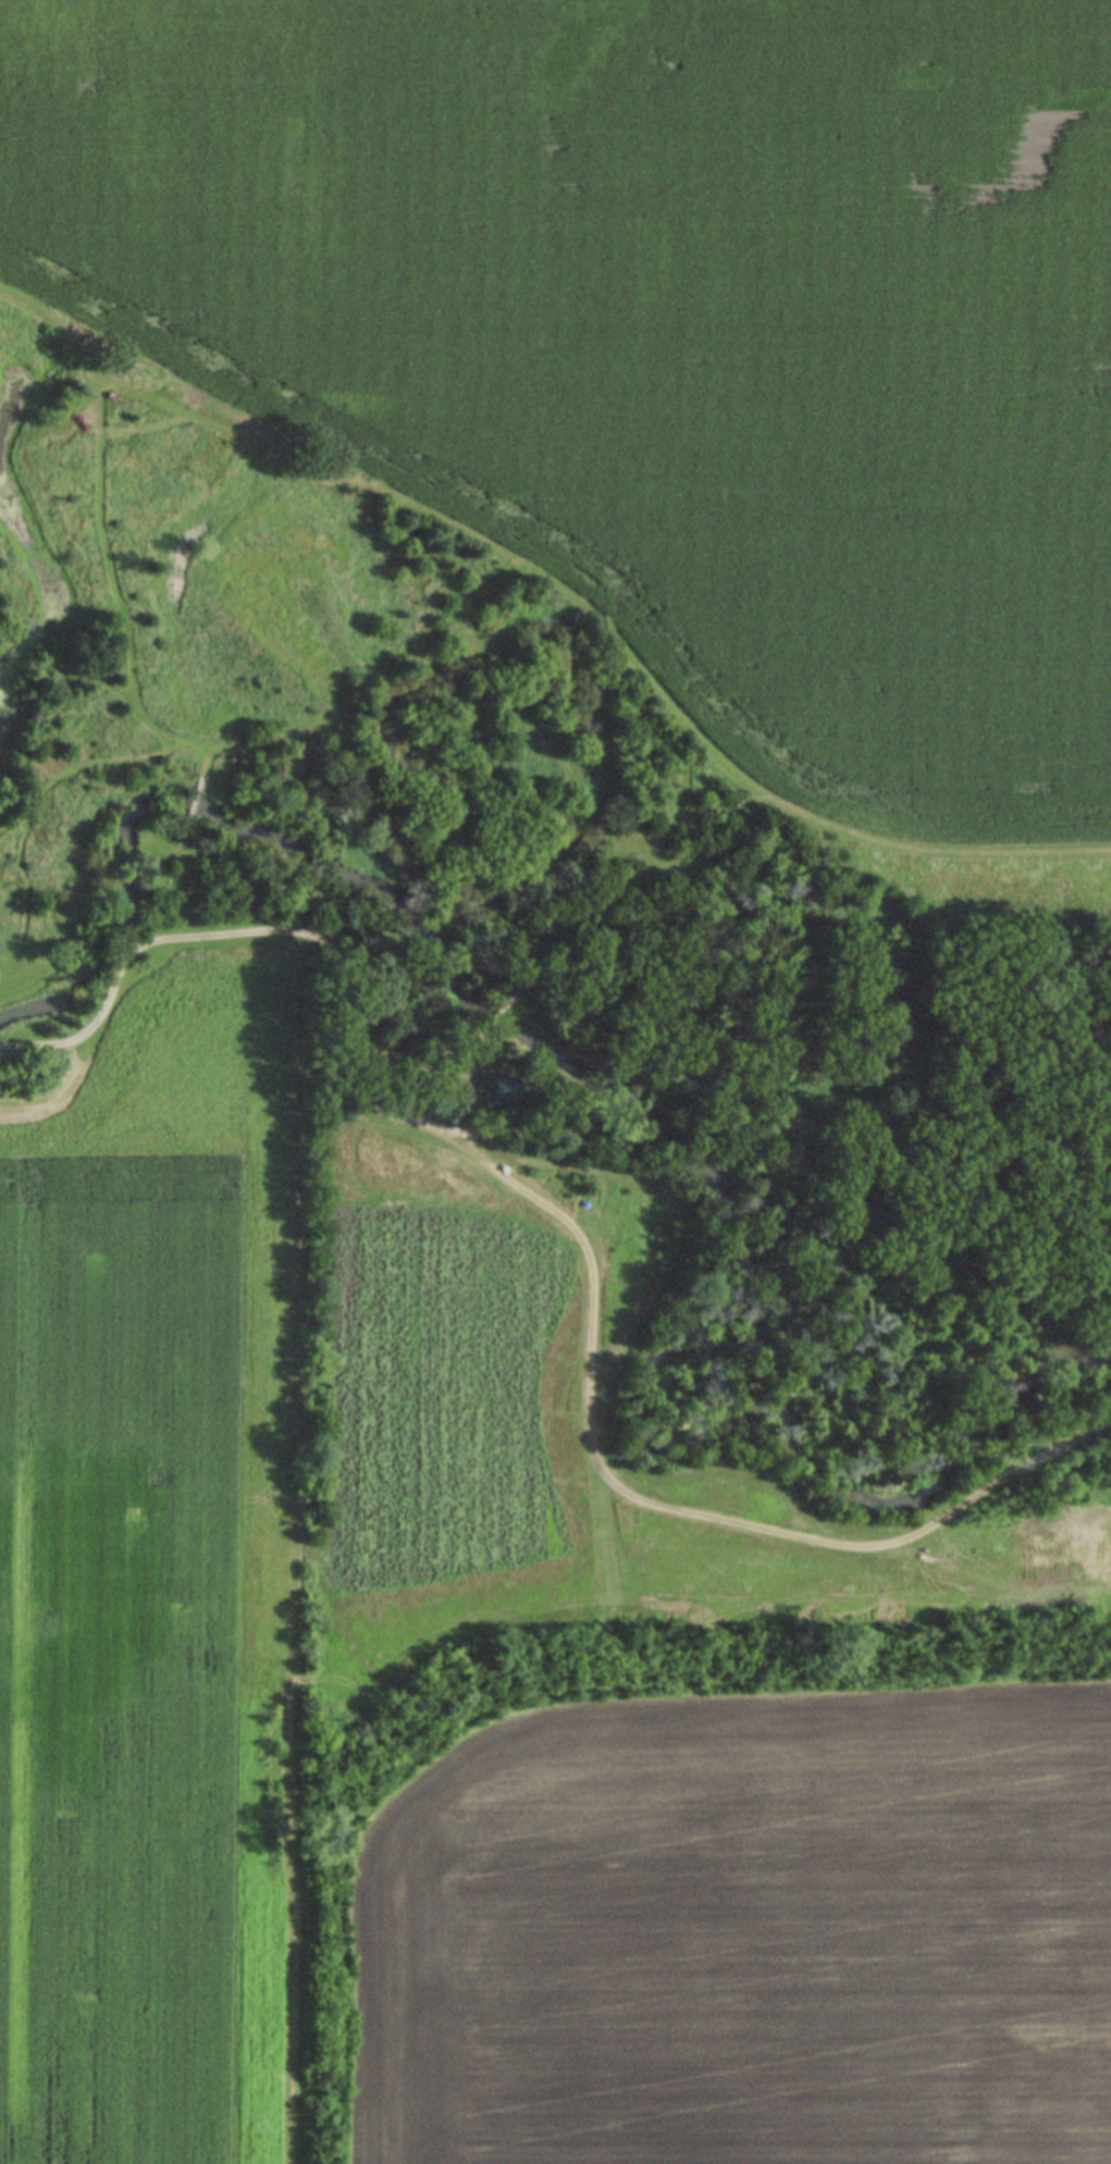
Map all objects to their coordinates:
road: (268, 929)
building: (496, 1088)
river: (705, 1161)

